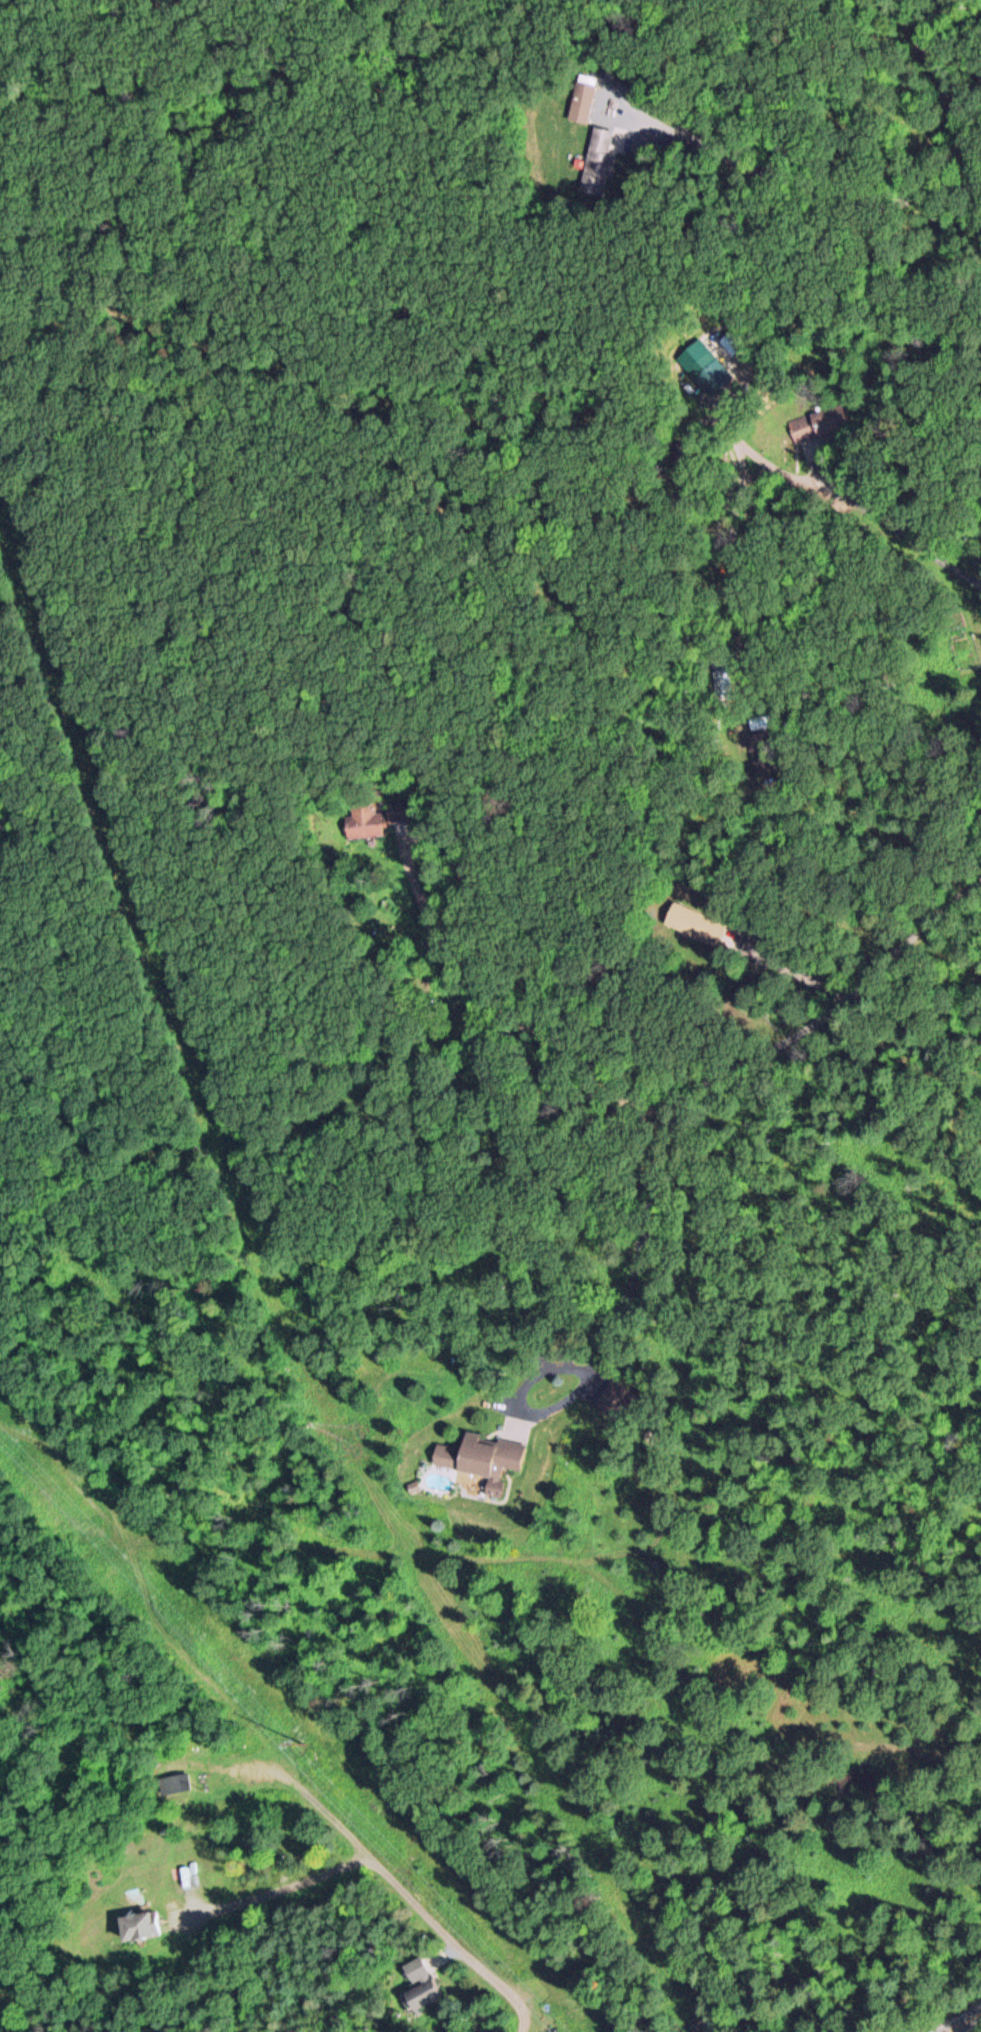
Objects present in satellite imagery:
building: (580, 103)
building: (597, 163)
road: (950, 229)
building: (715, 374)
building: (817, 422)
building: (771, 752)
building: (395, 810)
building: (362, 820)
building: (692, 922)
road: (757, 1245)
building: (613, 1400)
building: (480, 1458)
power tower: (300, 1734)
building: (178, 1782)
building: (138, 1926)
building: (416, 1985)
road: (967, 2024)

